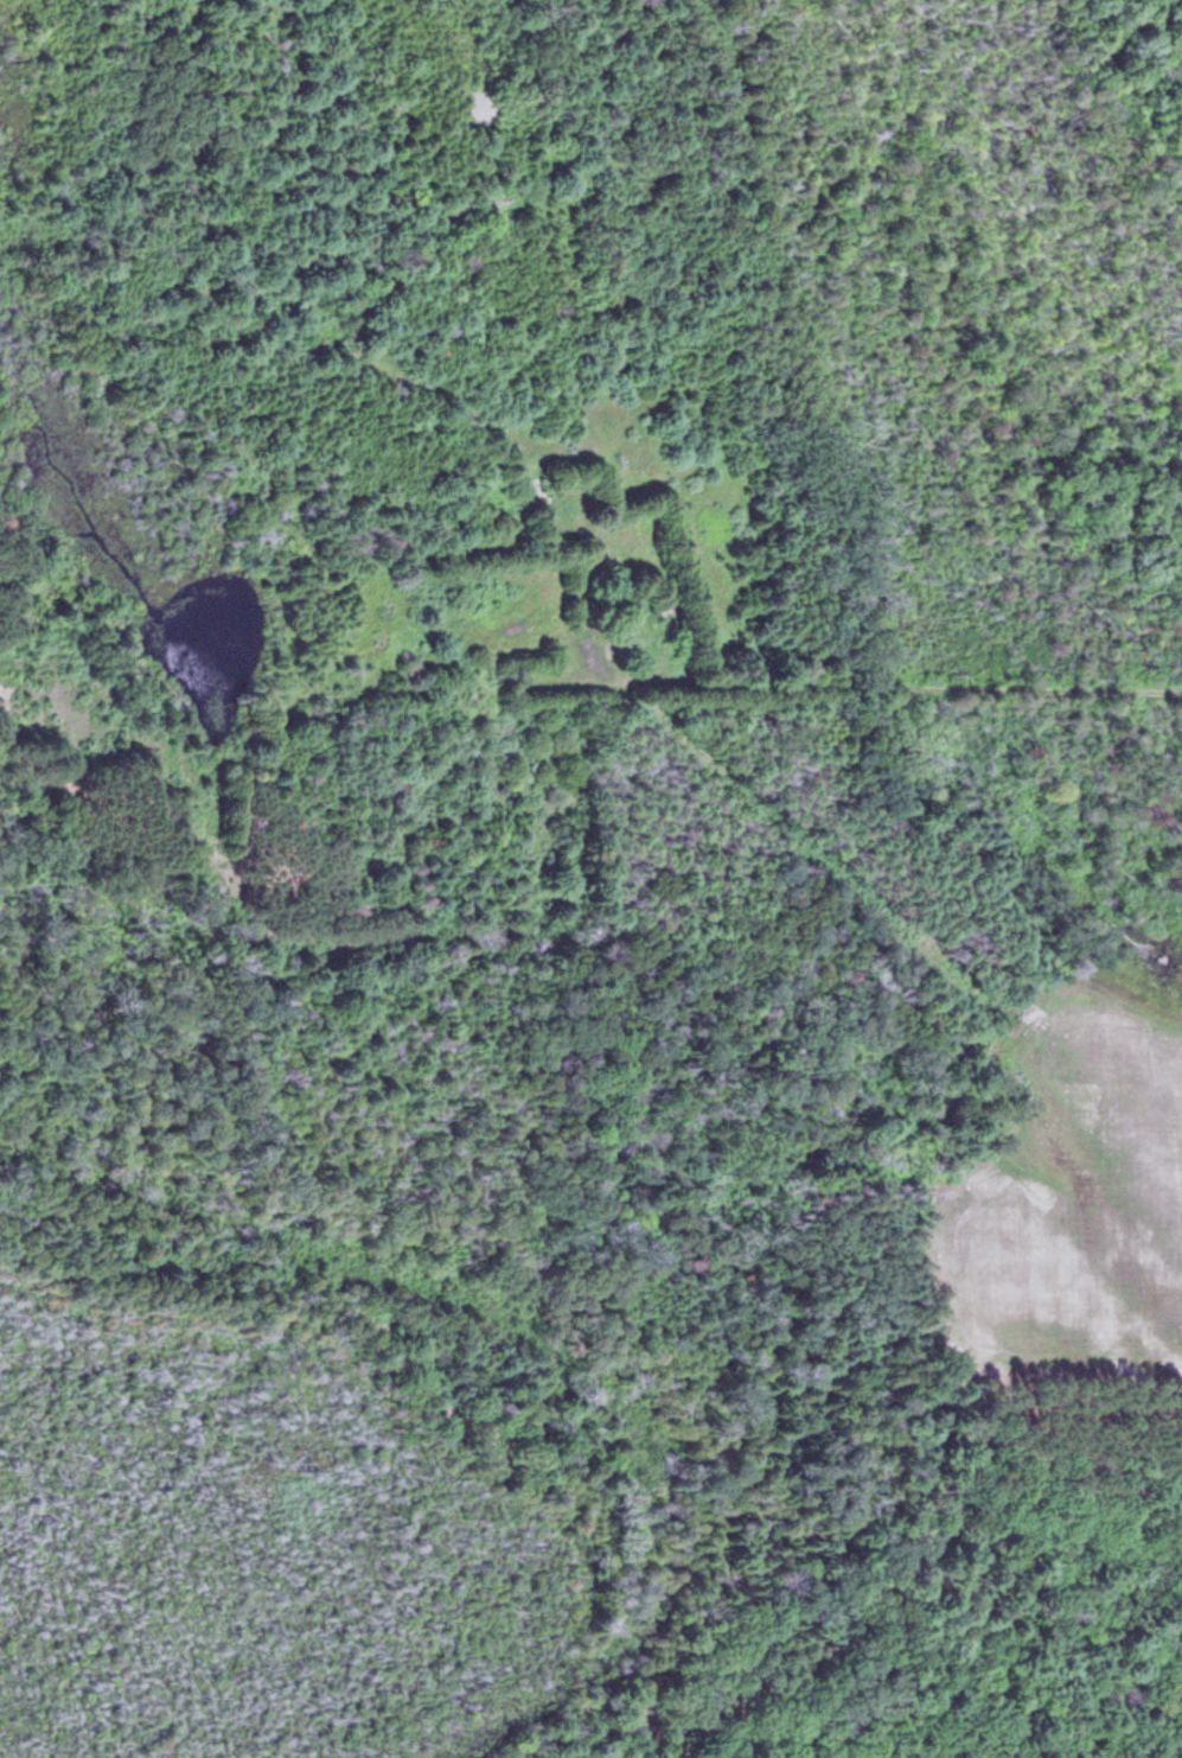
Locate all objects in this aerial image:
road: (905, 689)
park: (474, 725)

